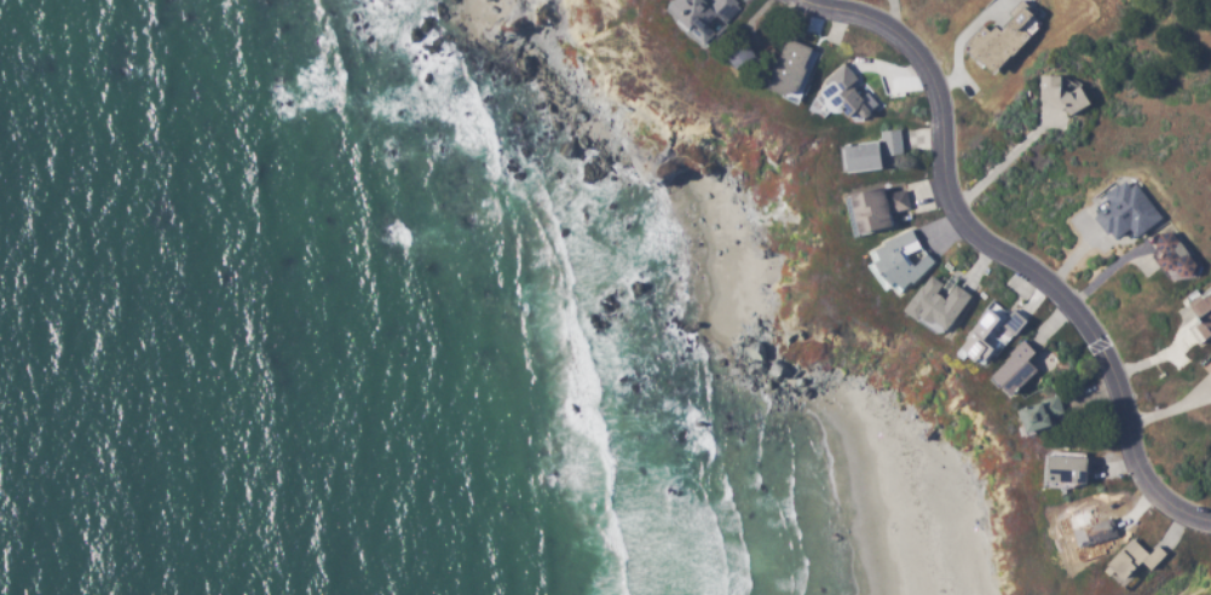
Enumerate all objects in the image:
building: (700, 16)
building: (1005, 39)
building: (792, 68)
building: (848, 92)
building: (1063, 93)
building: (871, 151)
building: (875, 210)
building: (1126, 210)
road: (999, 254)
building: (1172, 258)
building: (900, 259)
building: (1002, 299)
building: (938, 302)
building: (1204, 311)
building: (992, 333)
building: (1016, 369)
building: (1033, 417)
building: (1067, 476)
building: (1086, 528)
building: (1131, 562)

